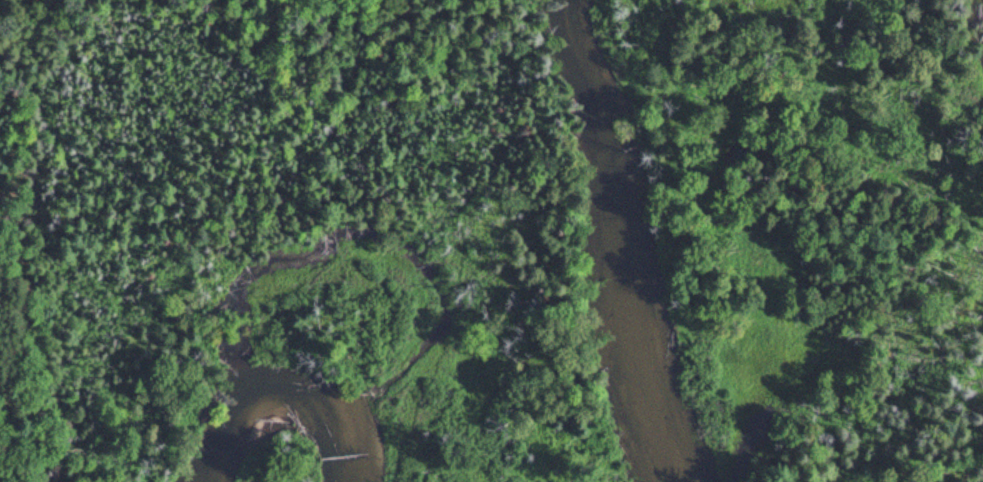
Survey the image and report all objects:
river: (616, 243)
river: (348, 251)
river: (317, 407)

